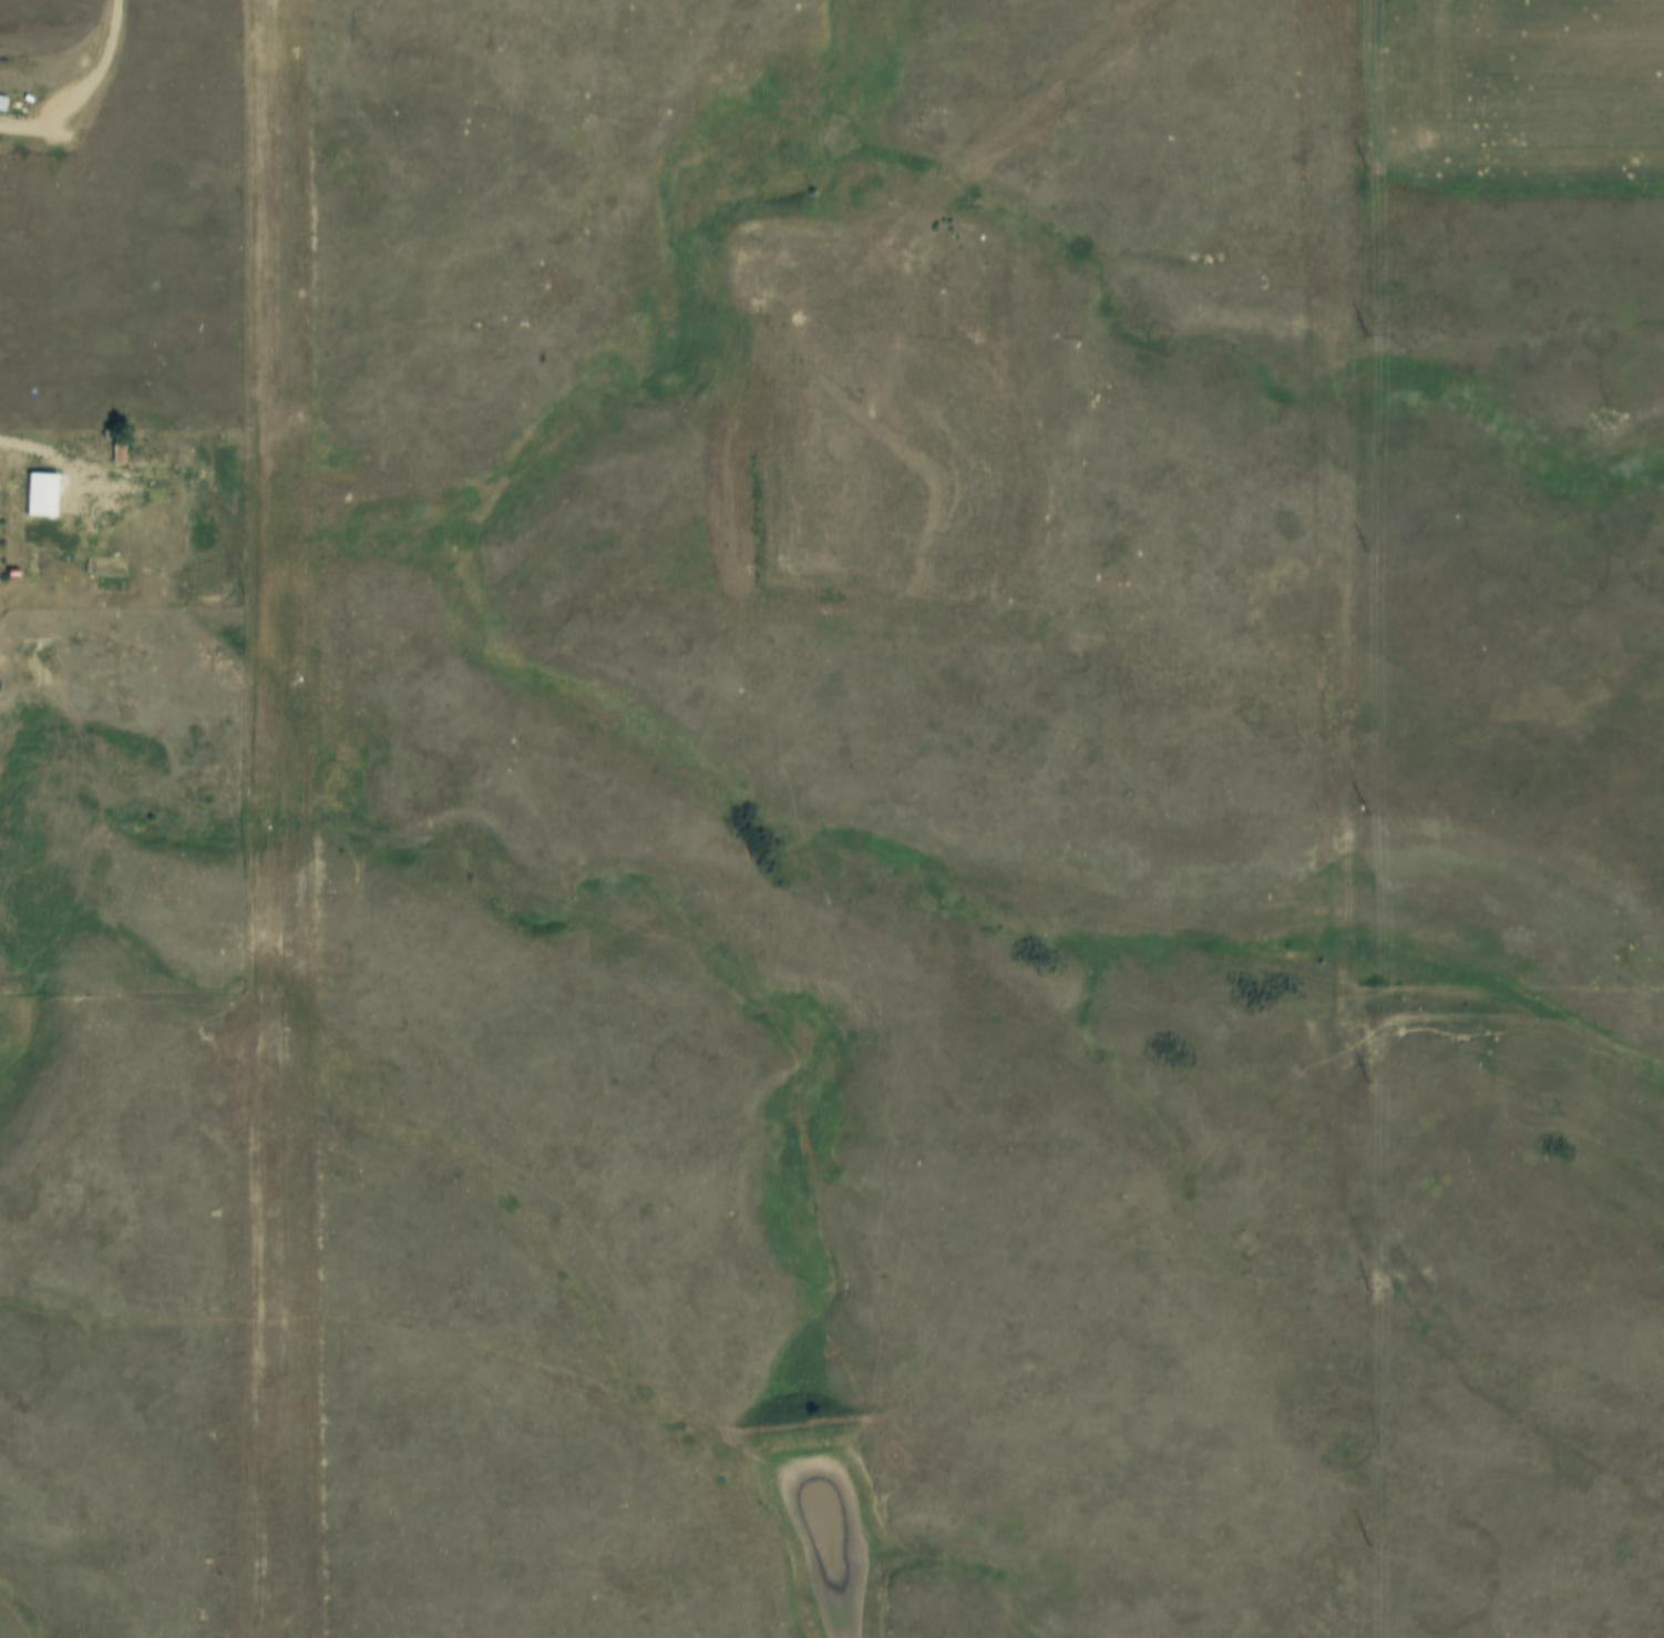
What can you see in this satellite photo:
road: (94, 73)
building: (0, 100)
road: (996, 142)
building: (145, 452)
road: (59, 462)
building: (41, 521)

